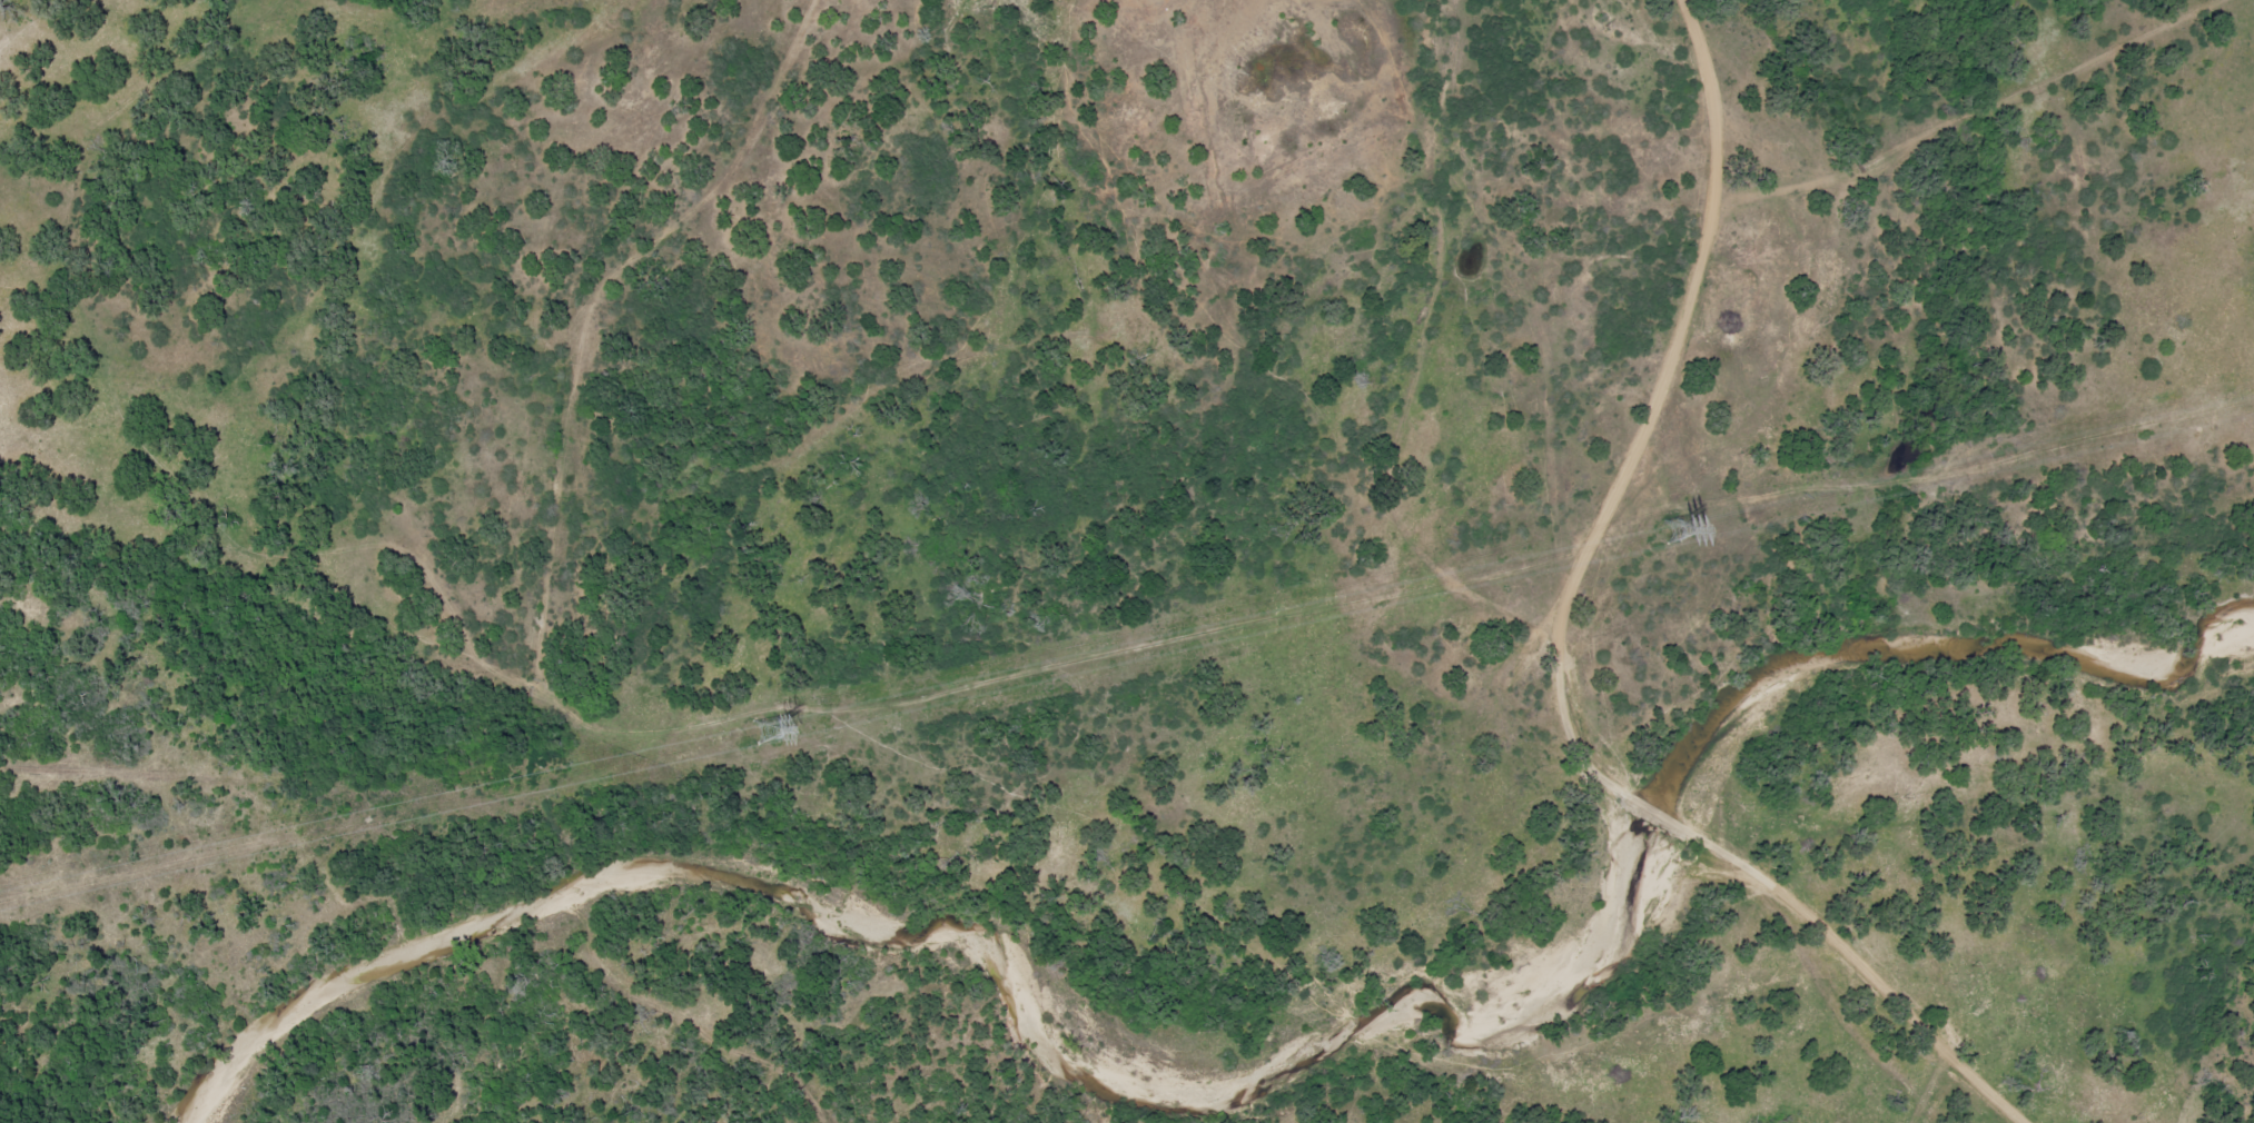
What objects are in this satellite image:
power tower: (1669, 534)
road: (1649, 599)
power tower: (768, 728)

